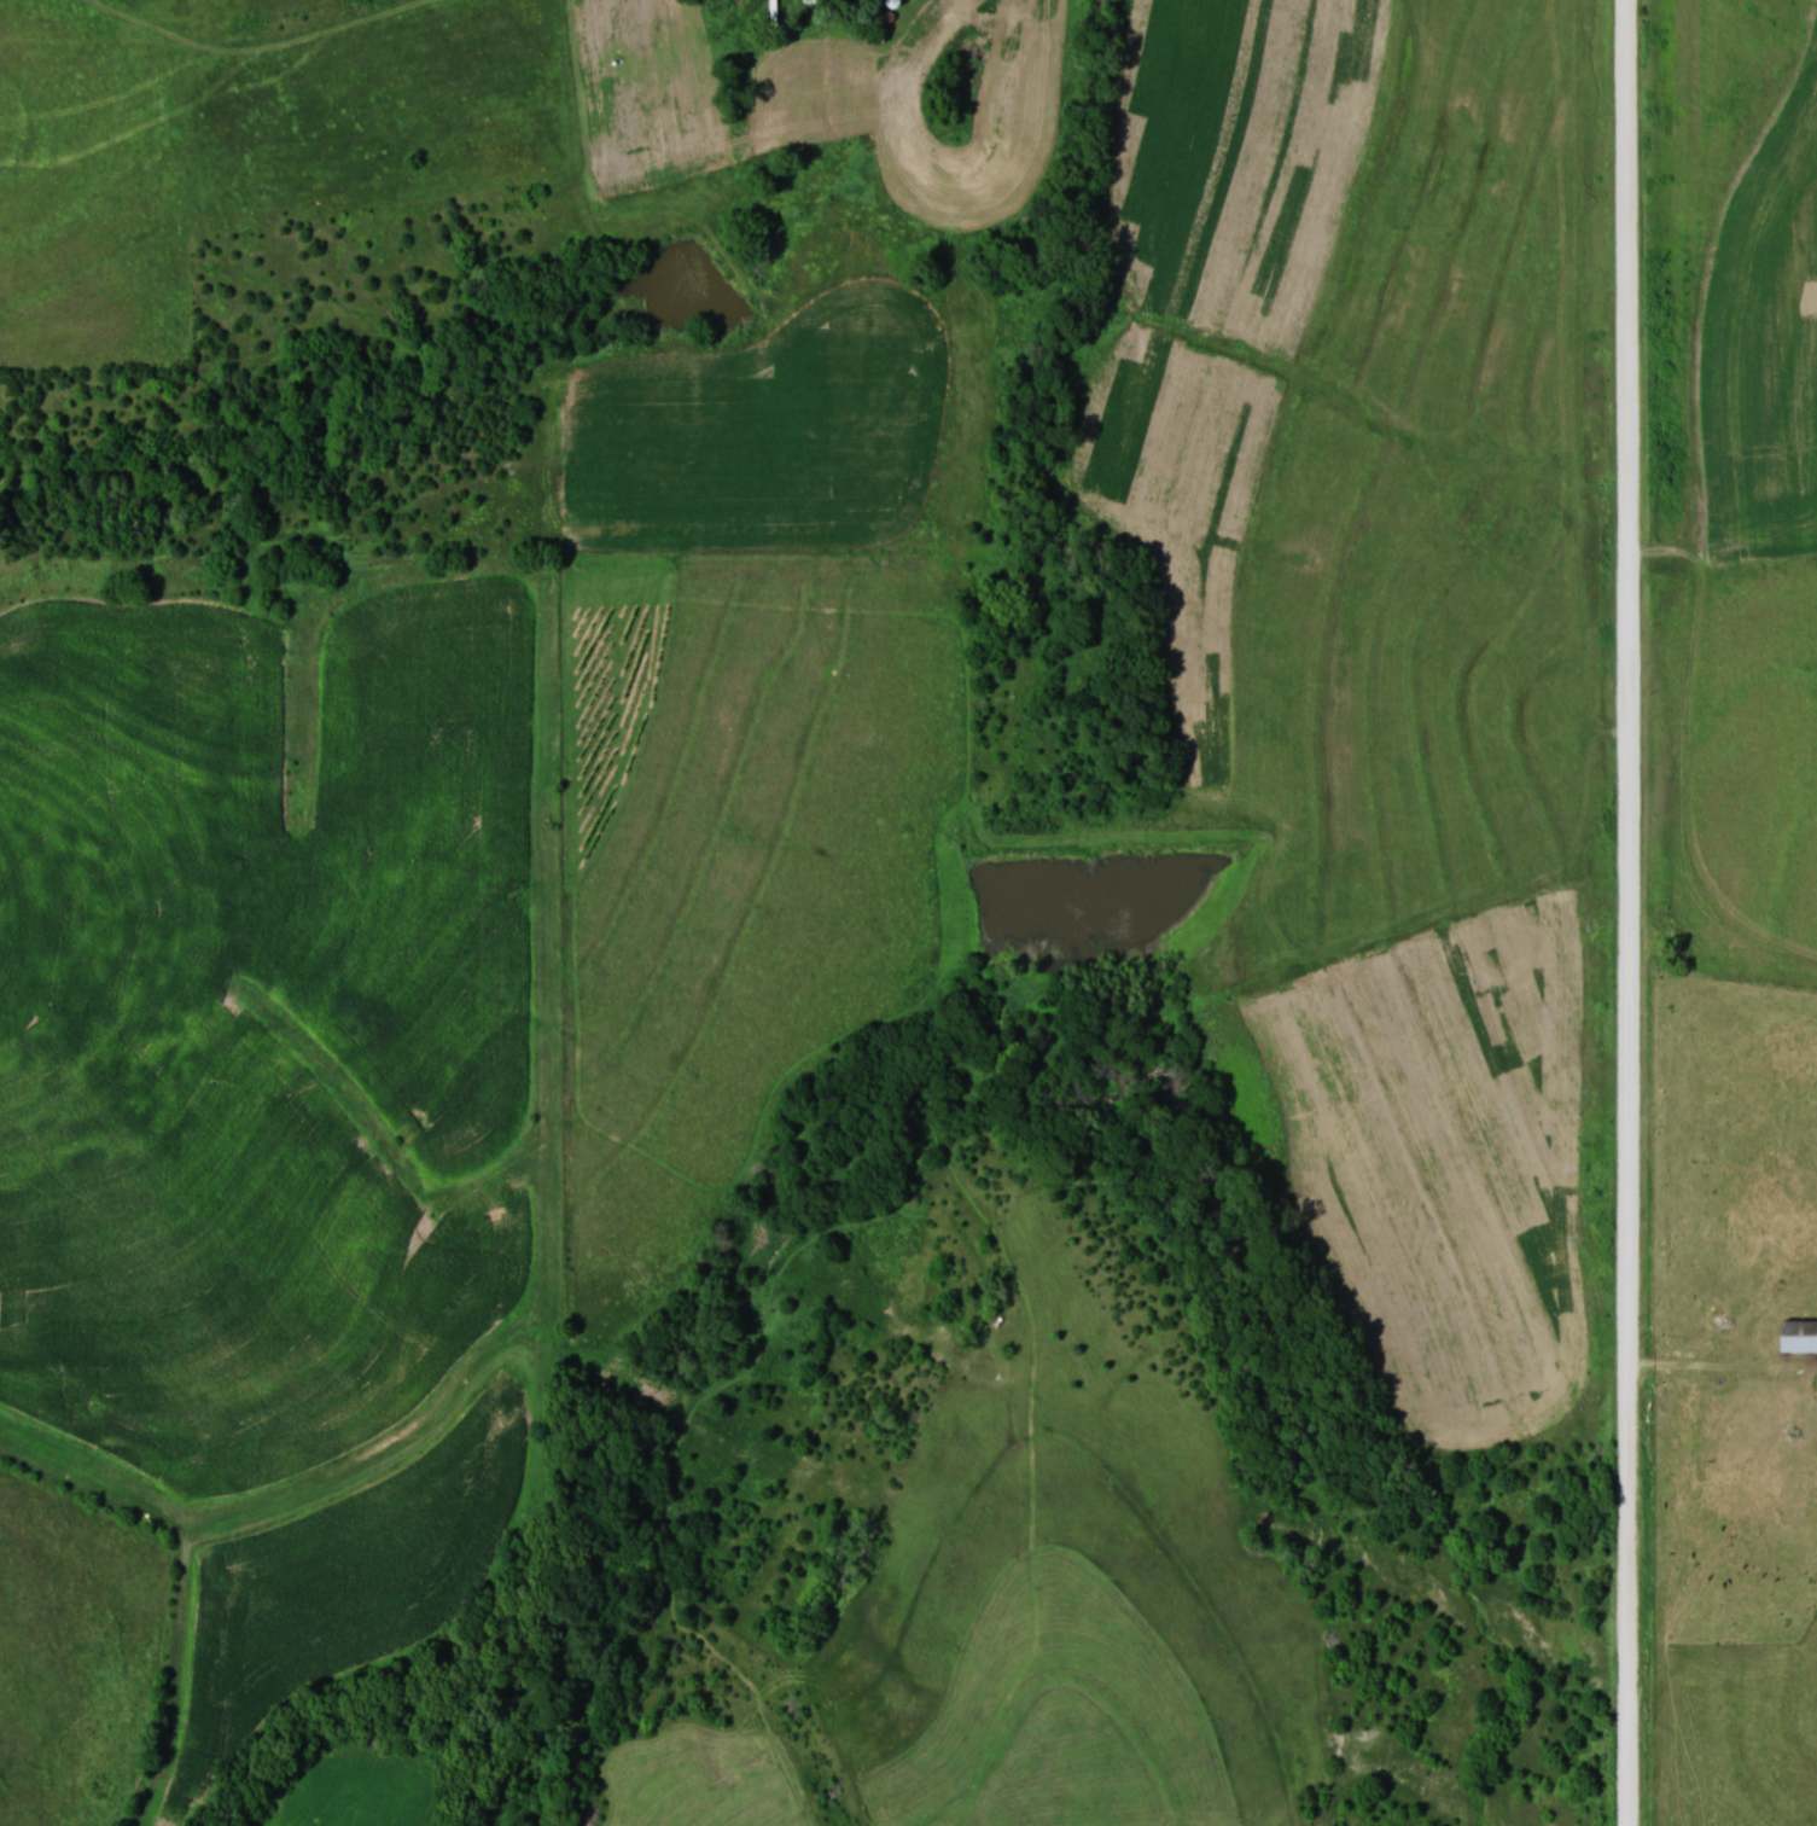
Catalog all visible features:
road: (1629, 912)
building: (1801, 1337)
road: (1720, 1382)

